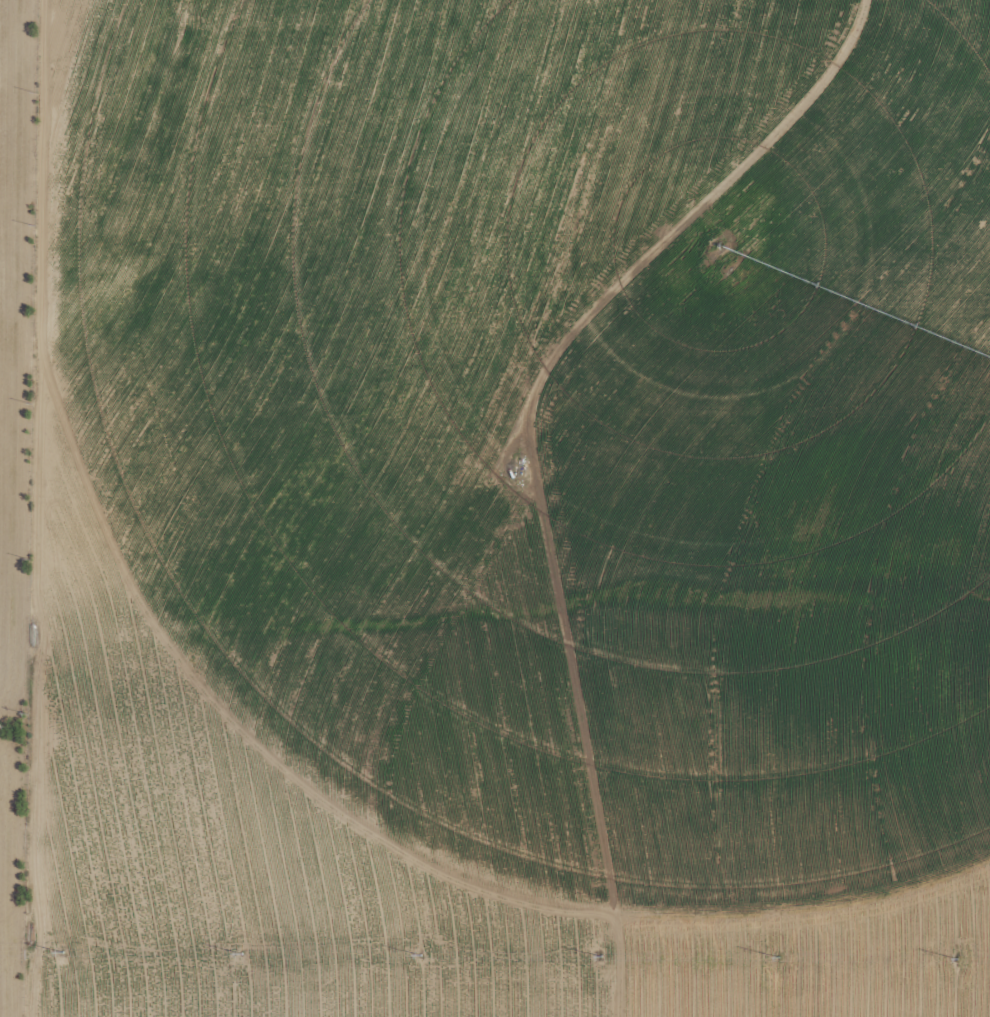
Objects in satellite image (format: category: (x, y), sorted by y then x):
road: (527, 448)

